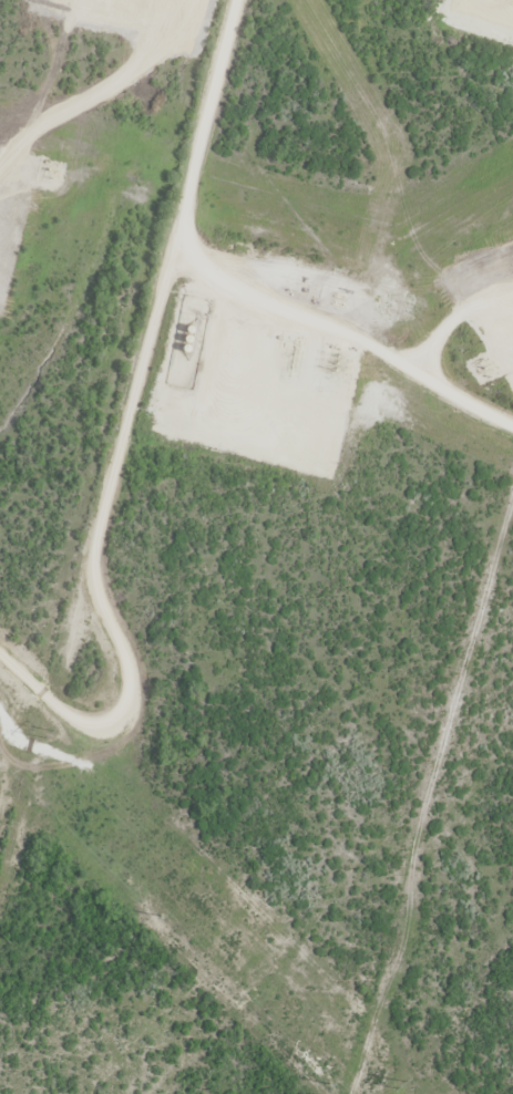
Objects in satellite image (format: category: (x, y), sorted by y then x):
power tower: (49, 733)
power tower: (161, 917)
power tower: (329, 1084)
power tower: (398, 1090)

